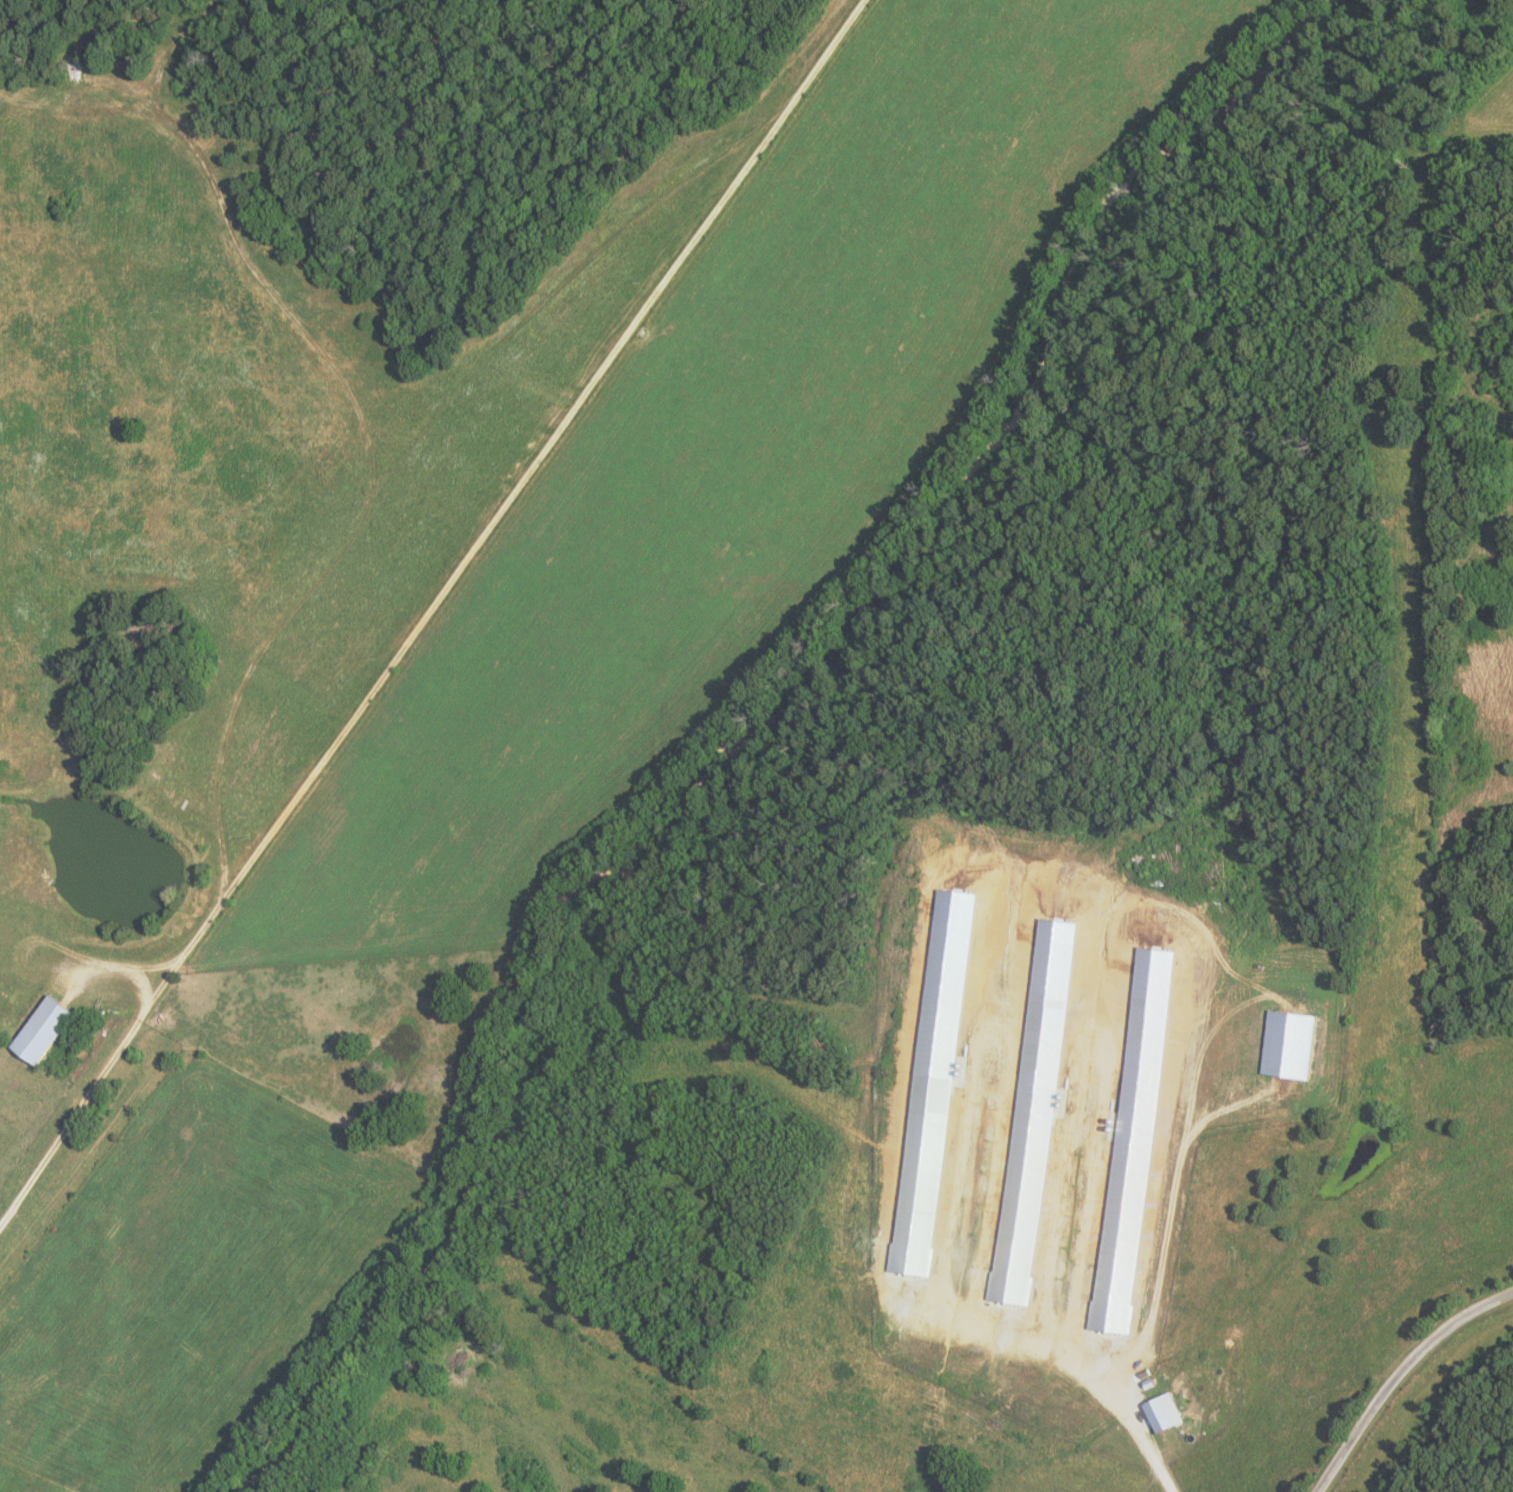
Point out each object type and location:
road: (431, 613)
building: (51, 1029)
road: (1399, 1376)
road: (1142, 1440)

